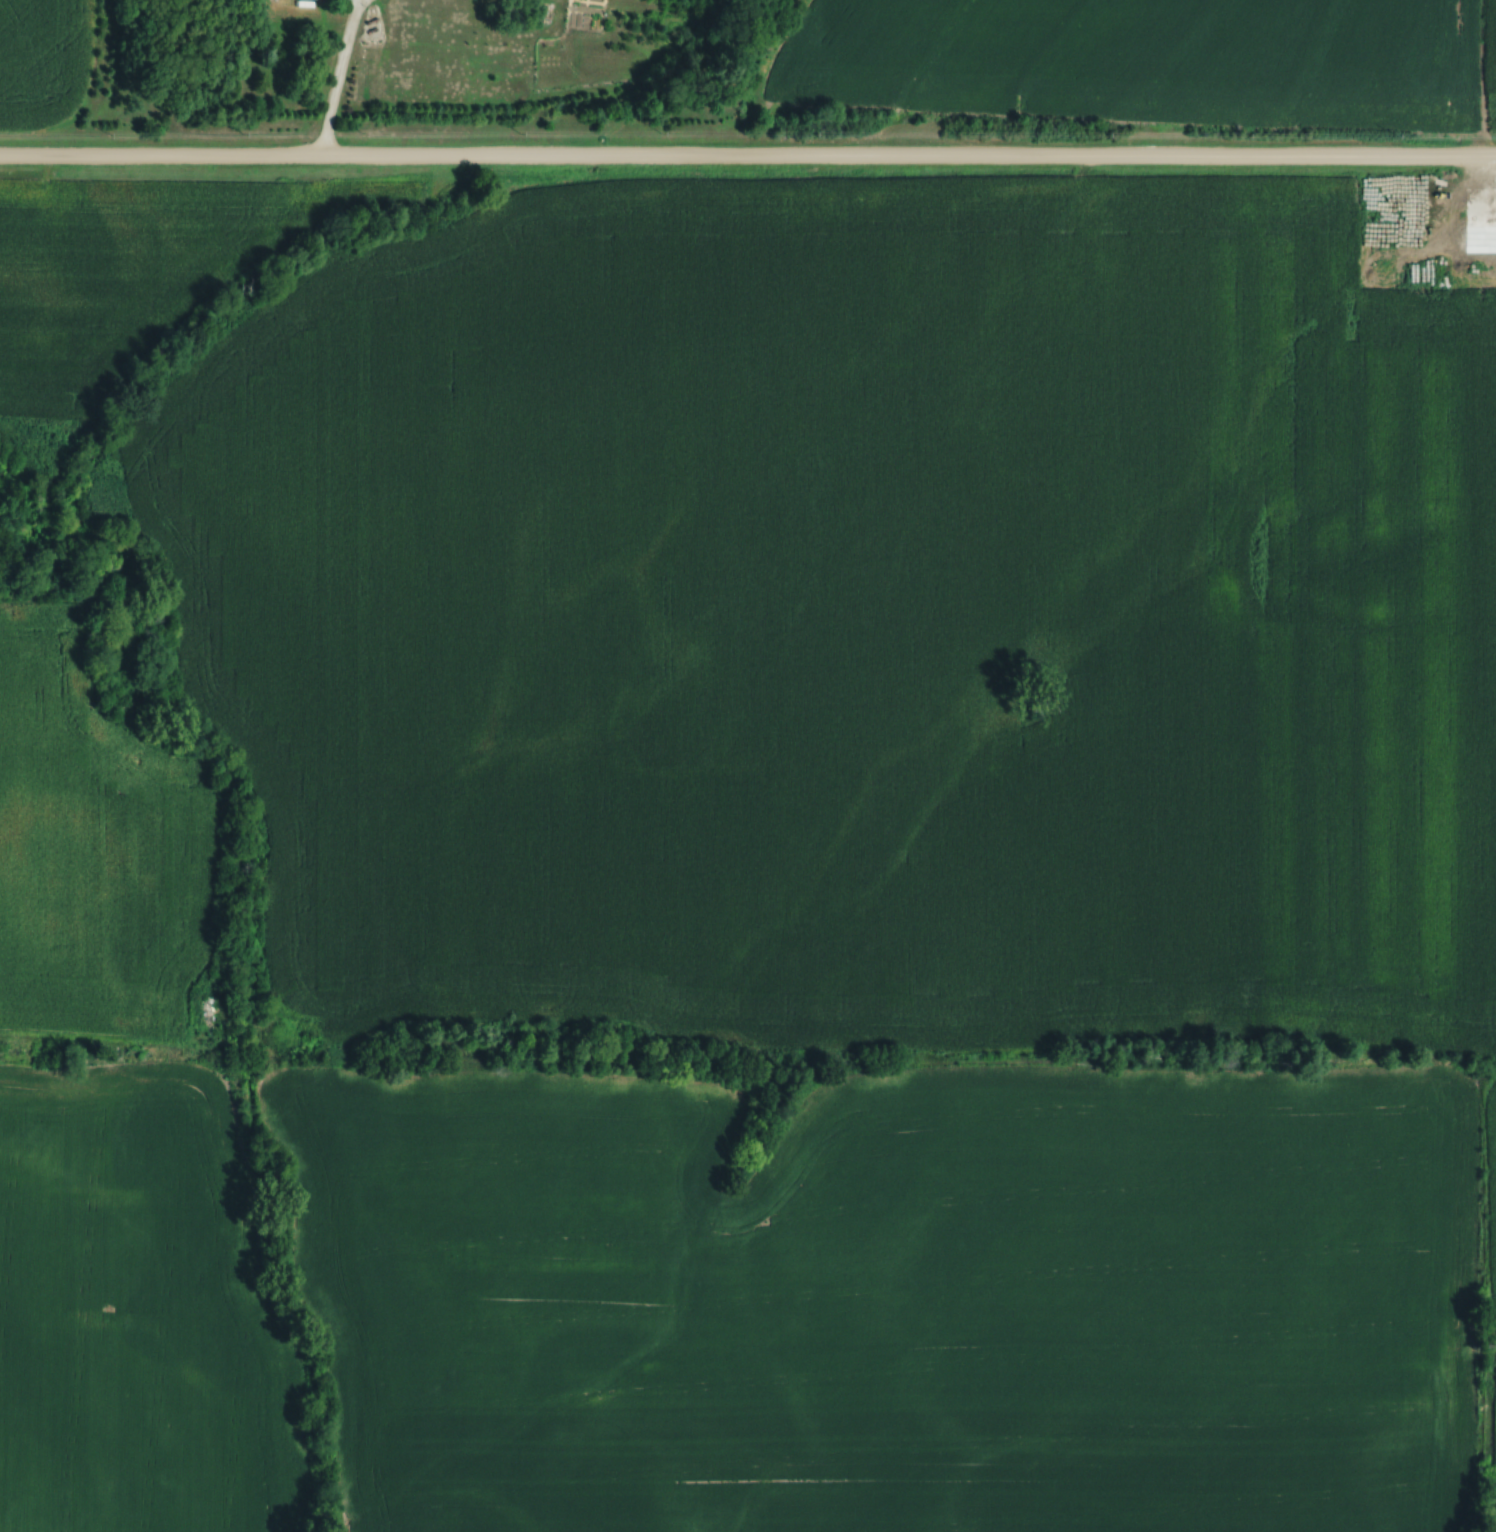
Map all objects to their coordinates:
building: (303, 0)
road: (337, 77)
road: (748, 160)

